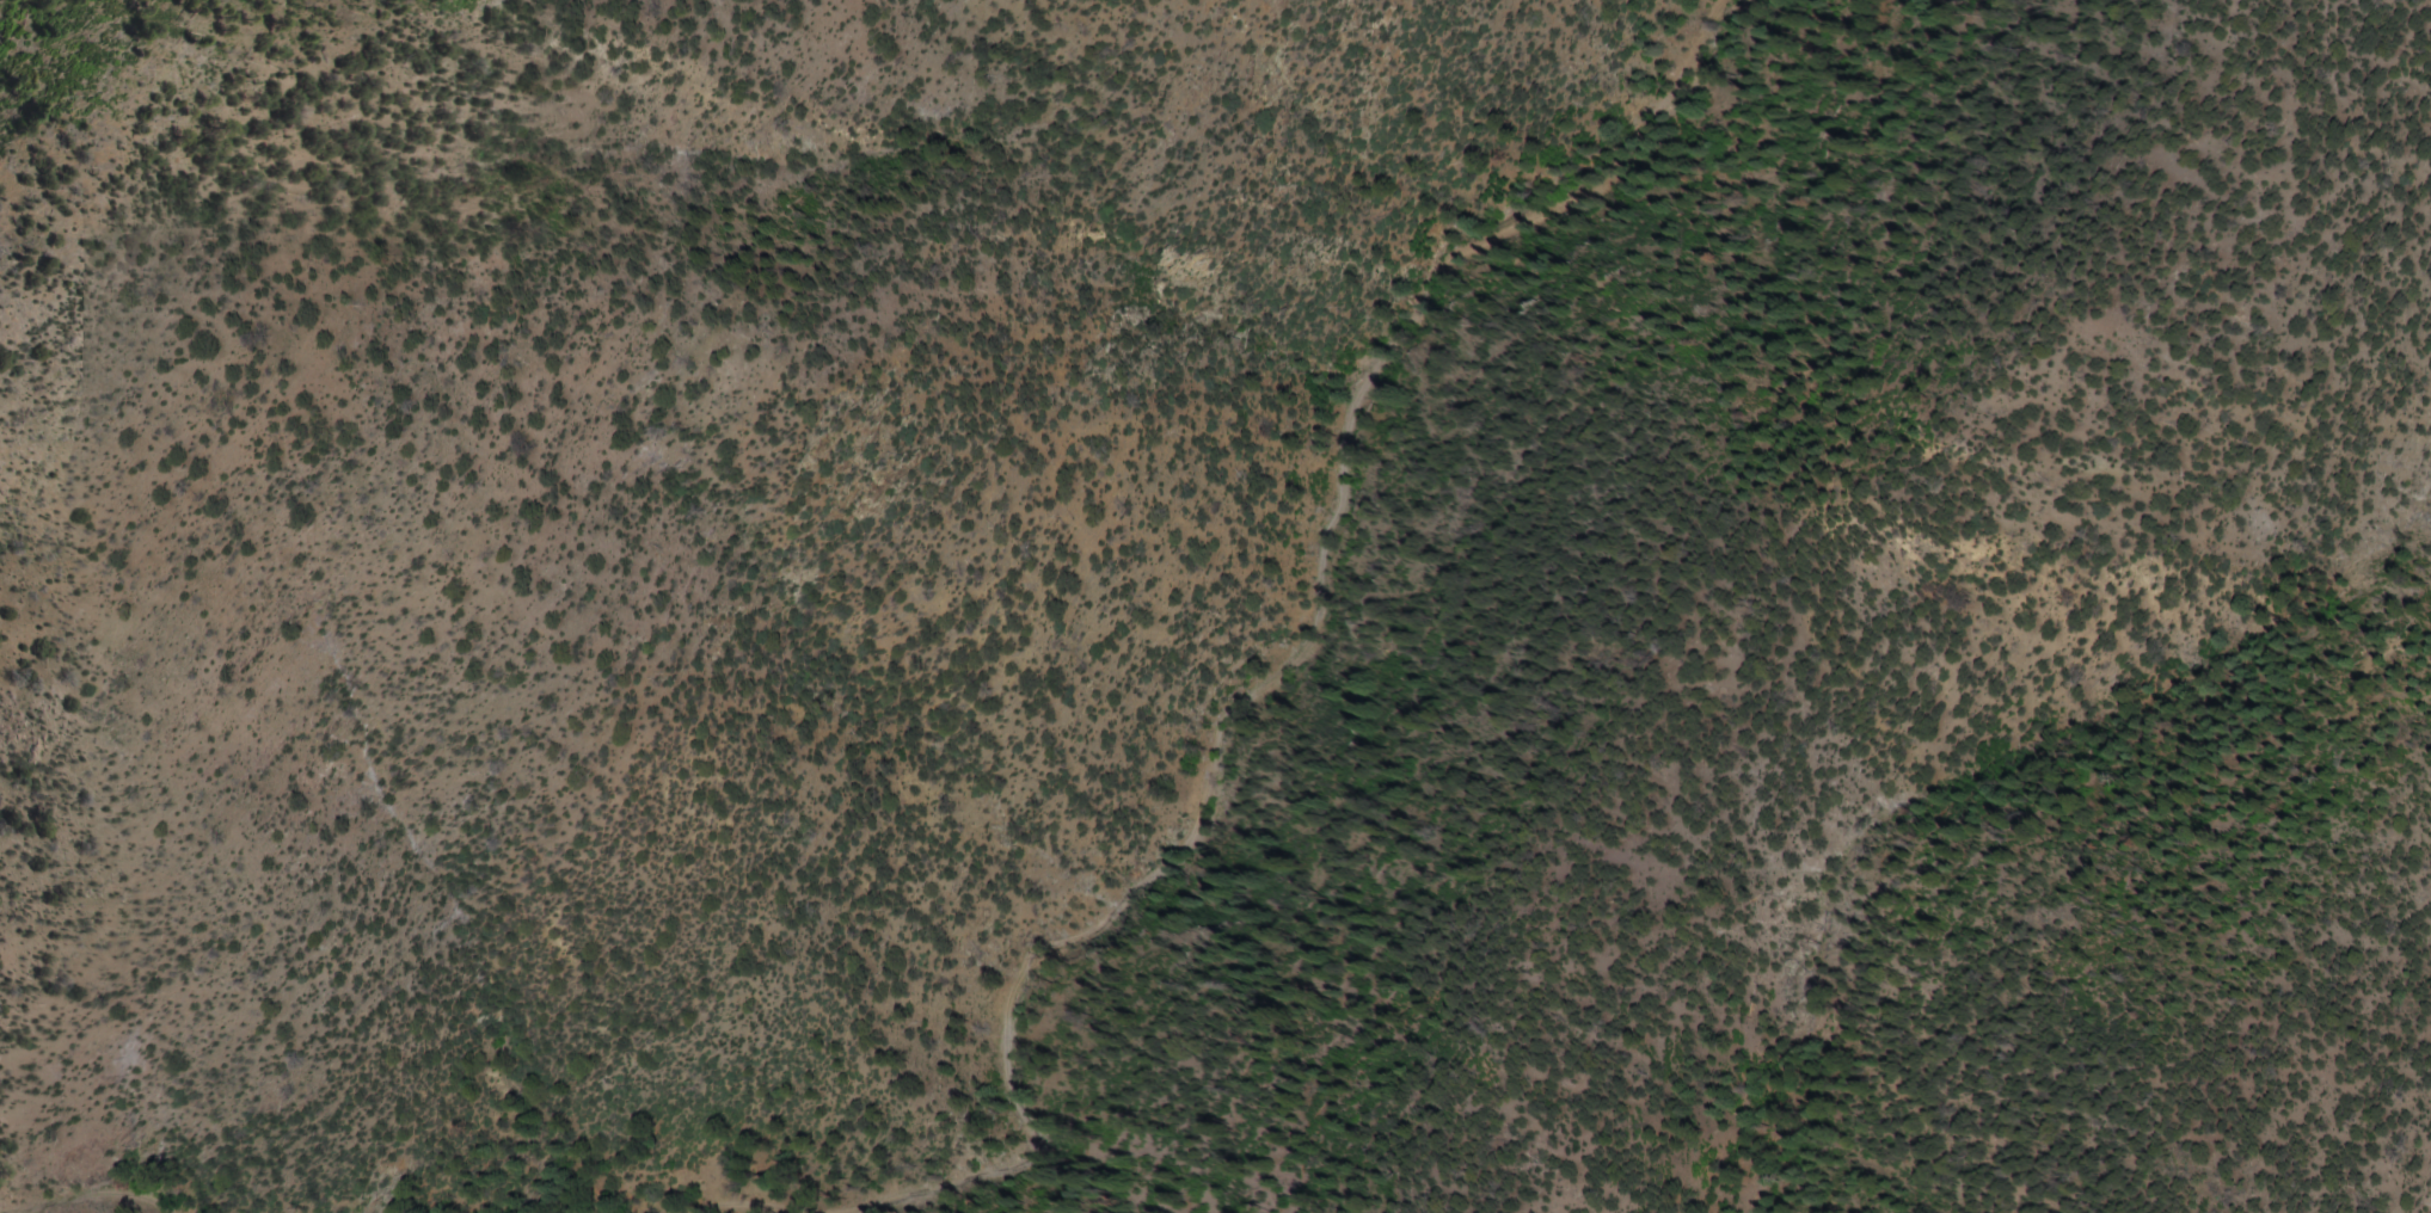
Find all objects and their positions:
road: (1313, 608)
road: (748, 1209)

